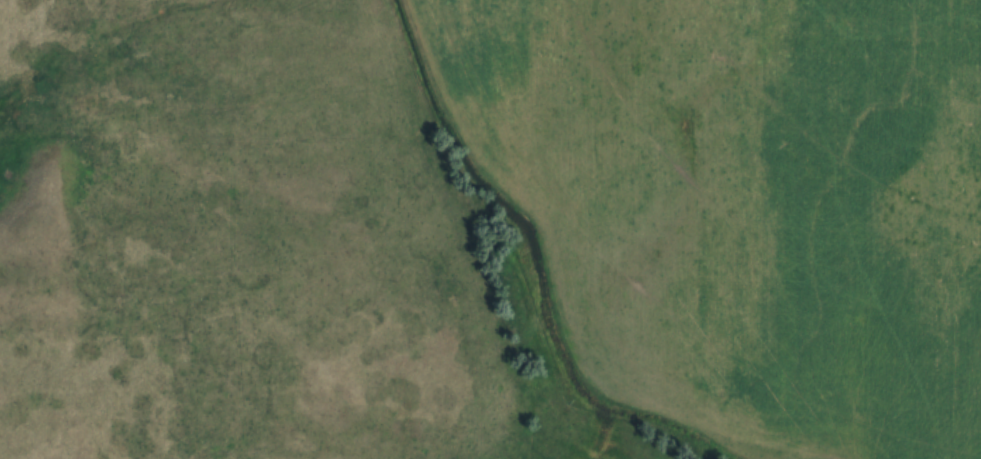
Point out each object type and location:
crop: (737, 207)

